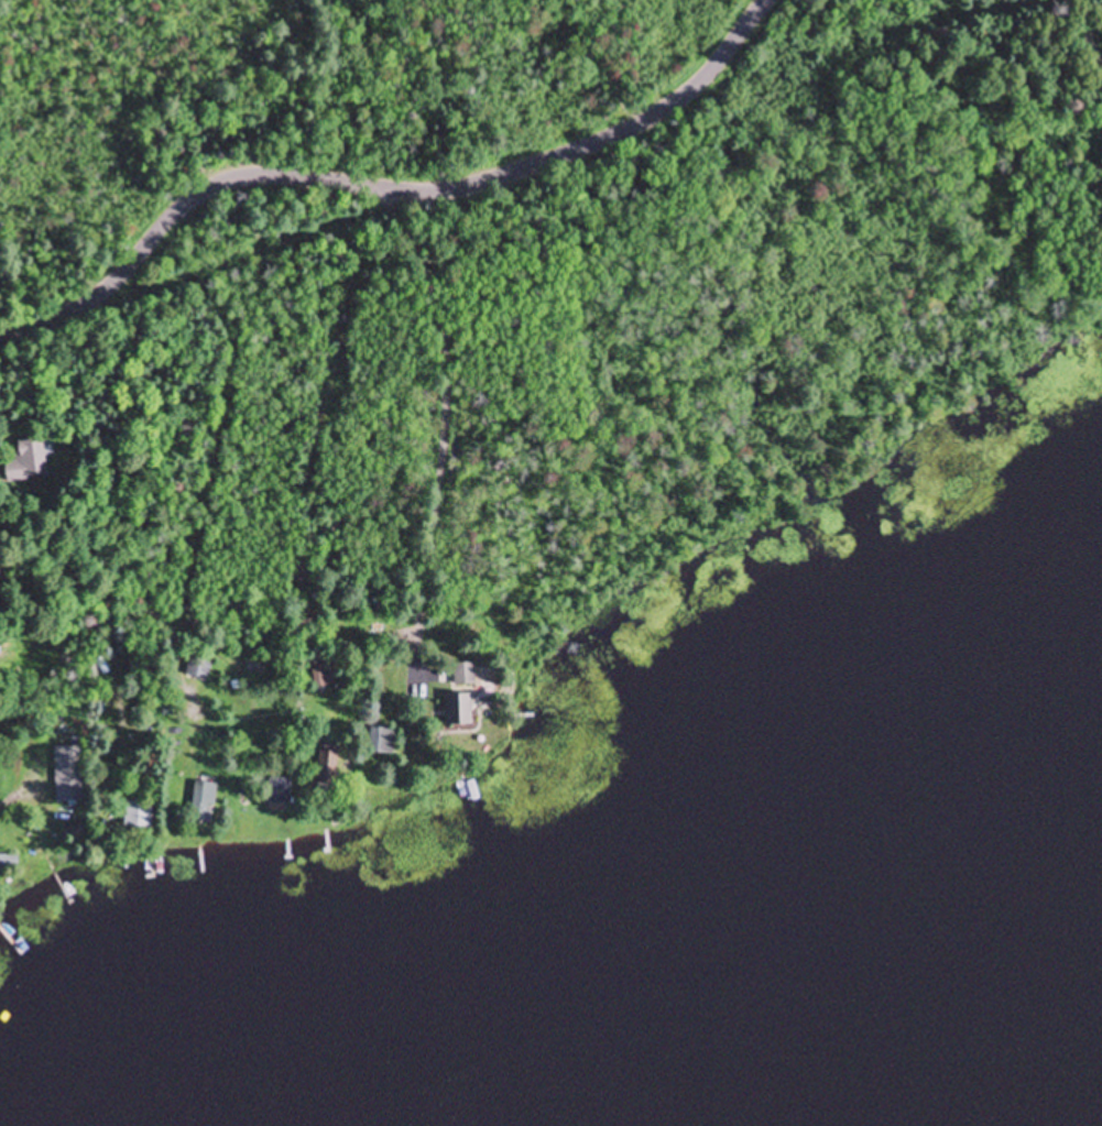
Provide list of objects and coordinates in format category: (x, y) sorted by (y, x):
road: (1032, 51)
road: (386, 185)
road: (367, 426)
building: (26, 463)
road: (122, 590)
building: (198, 666)
building: (463, 675)
building: (320, 676)
building: (458, 710)
building: (381, 742)
building: (327, 764)
building: (67, 775)
building: (281, 791)
building: (205, 799)
building: (137, 817)

